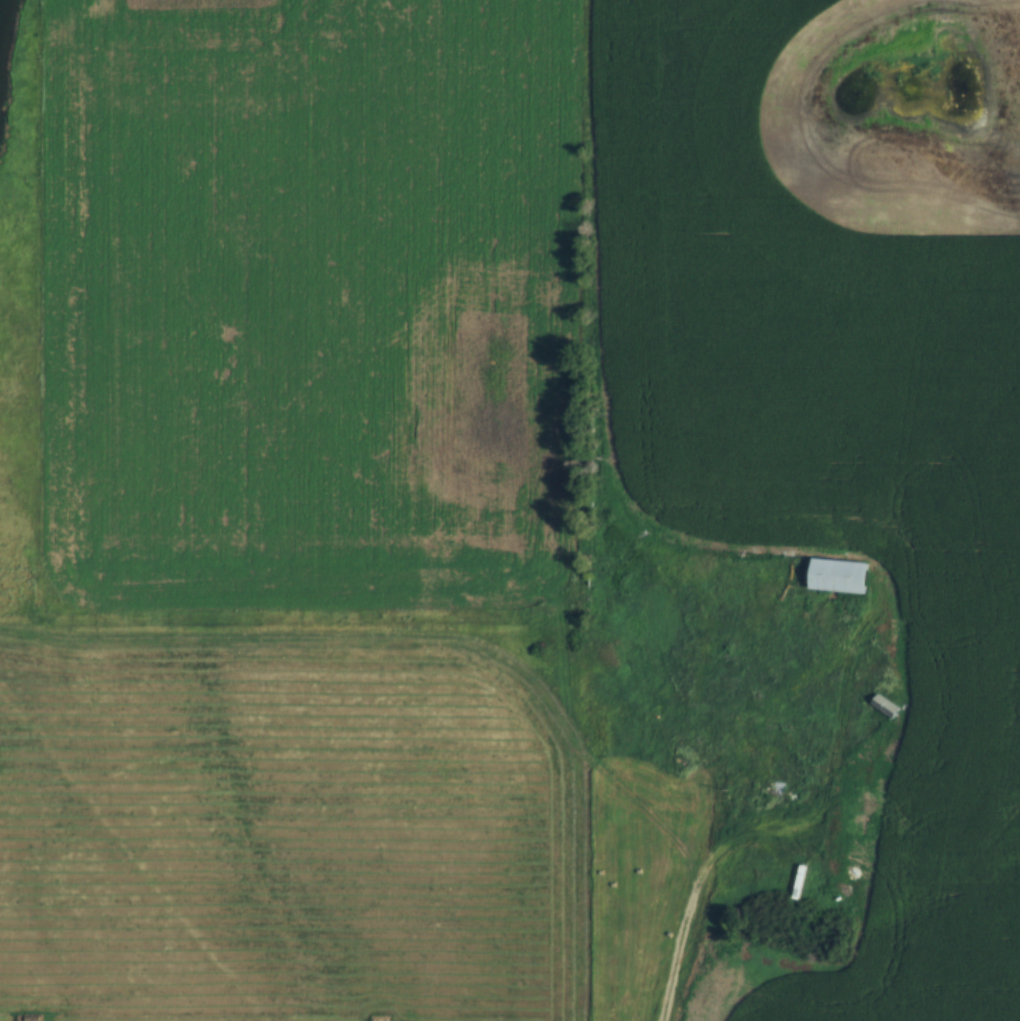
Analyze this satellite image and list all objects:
building: (838, 577)
building: (885, 708)
building: (879, 782)
building: (781, 796)
building: (798, 882)

